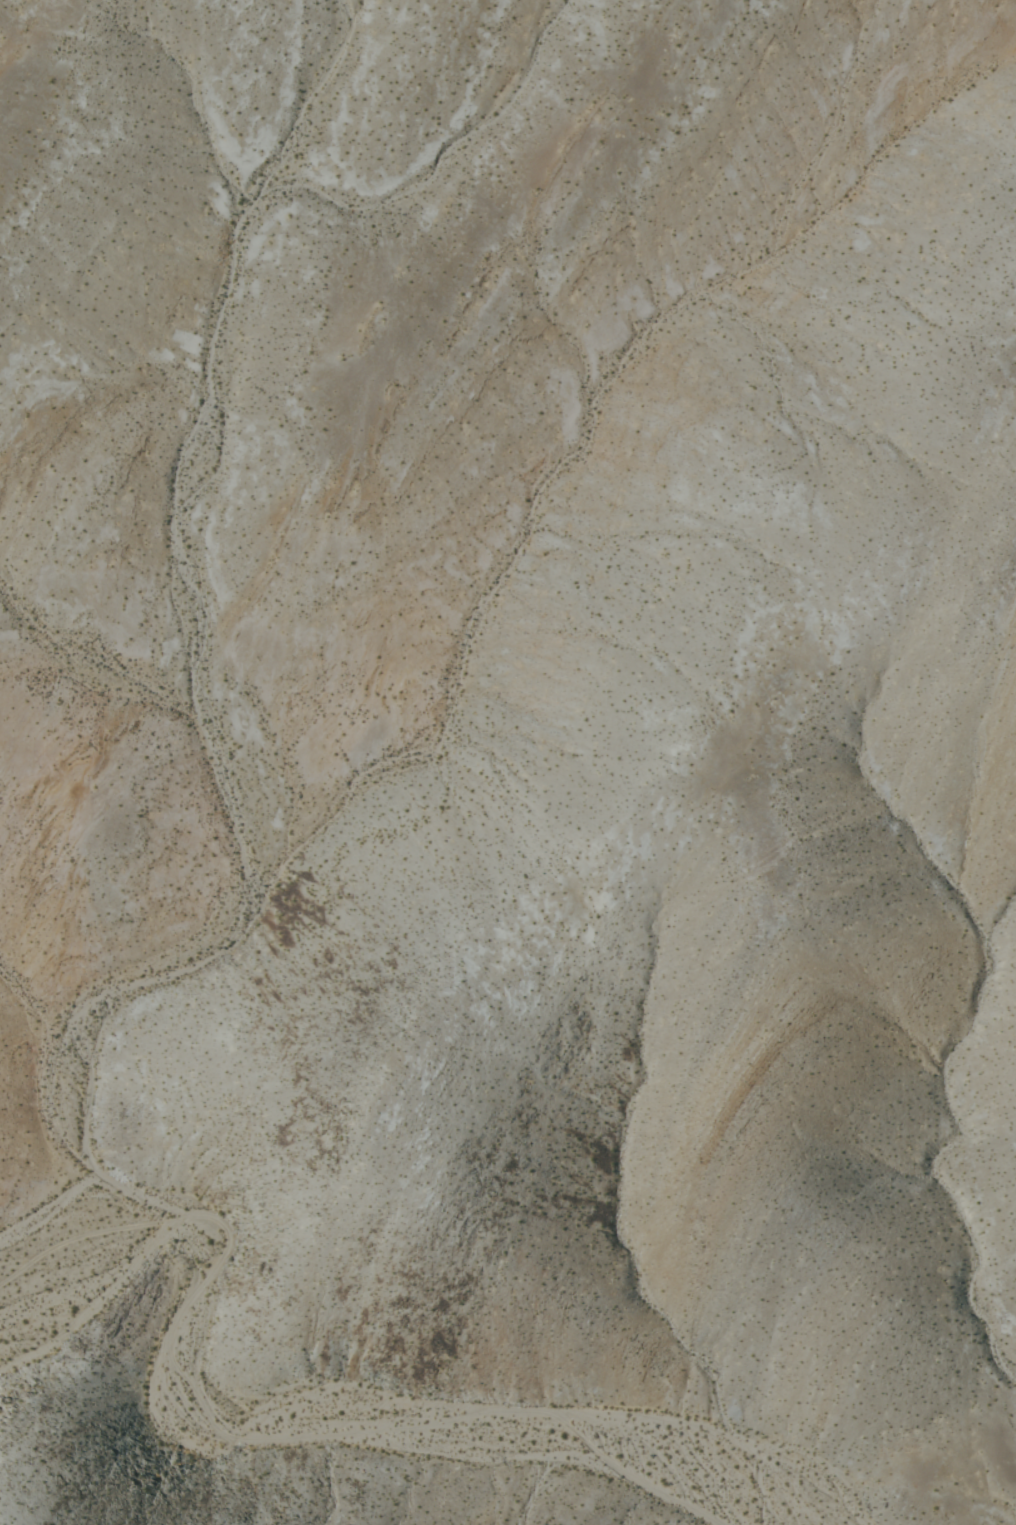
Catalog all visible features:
road: (250, 1433)

